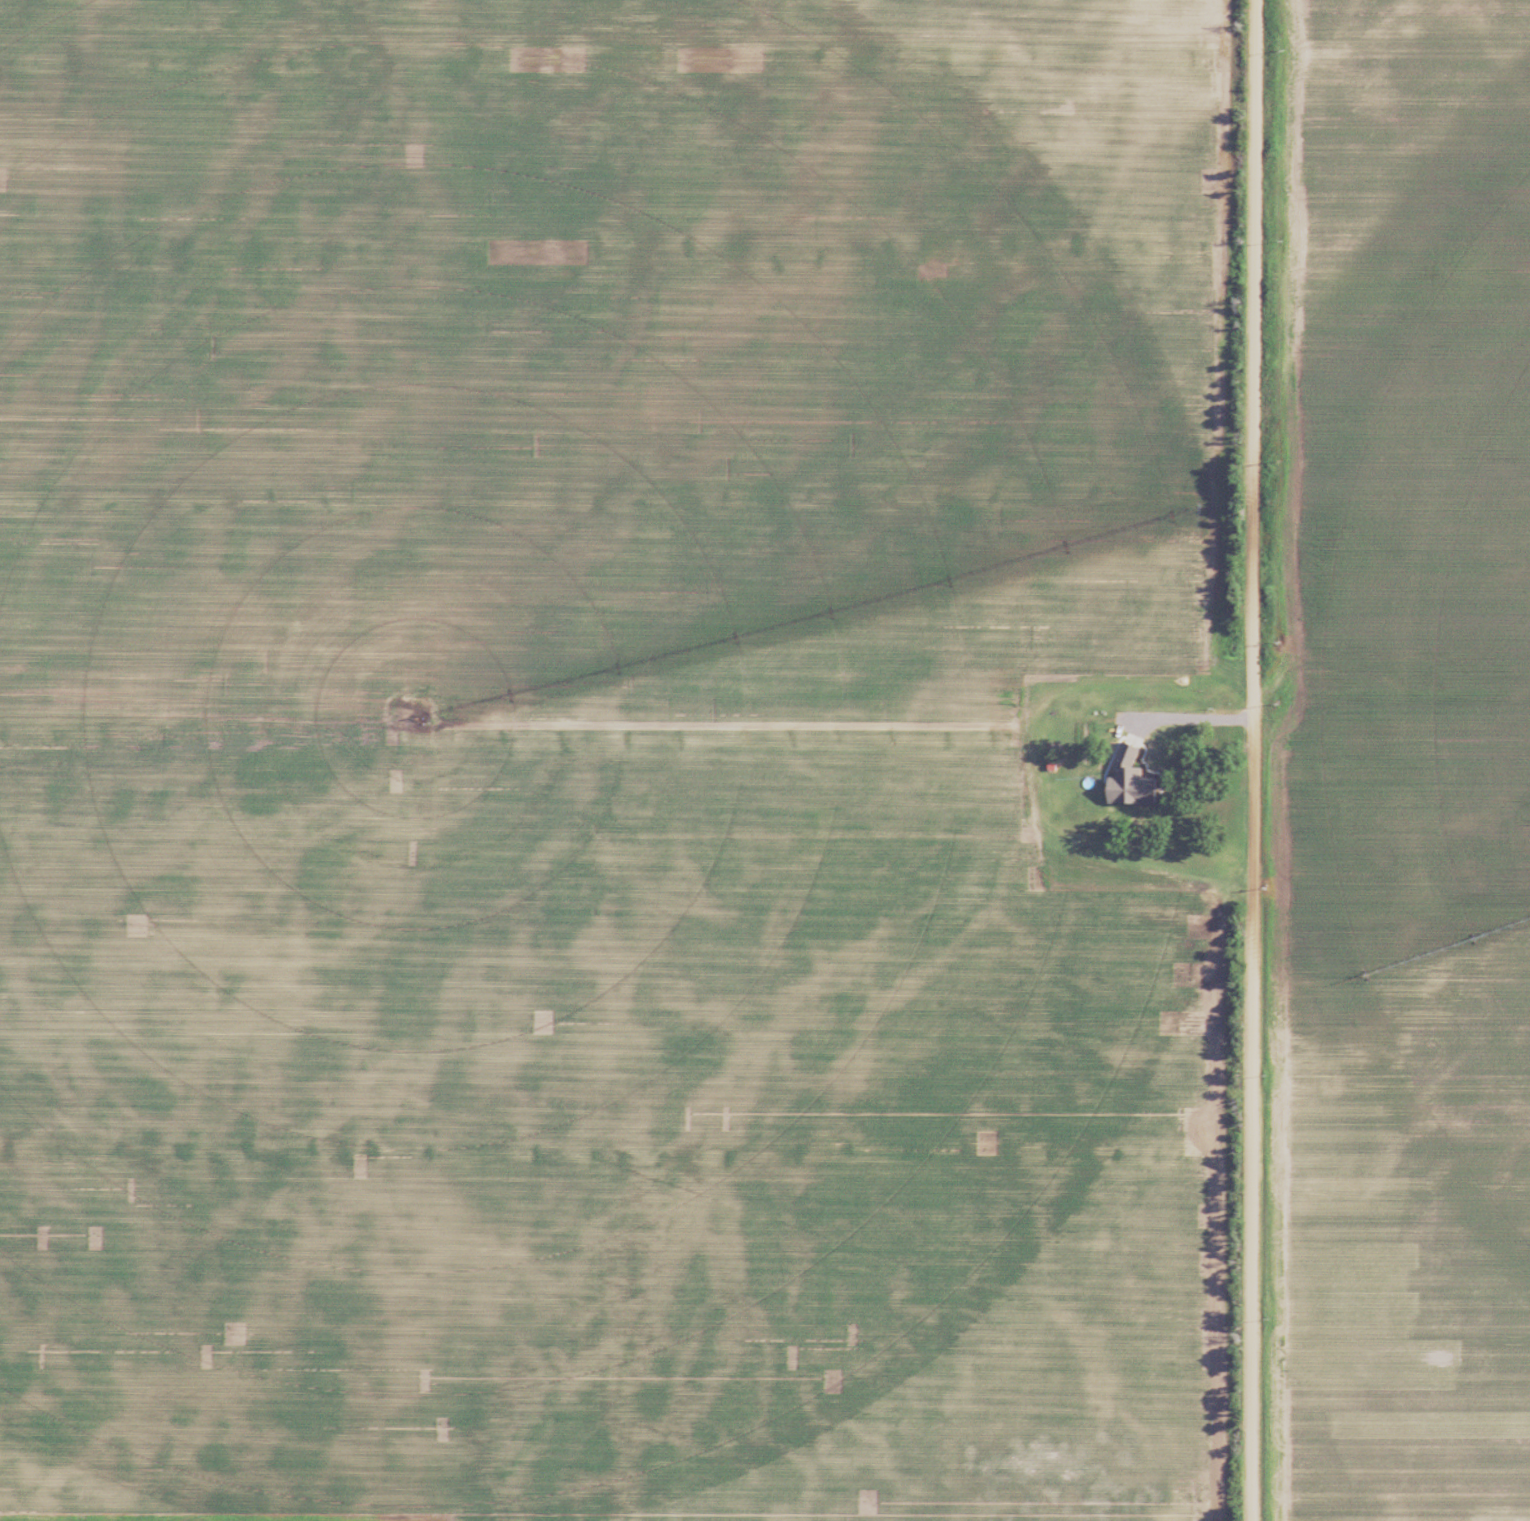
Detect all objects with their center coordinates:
building: (1118, 717)
building: (1153, 733)
road: (1257, 760)
building: (1096, 791)

